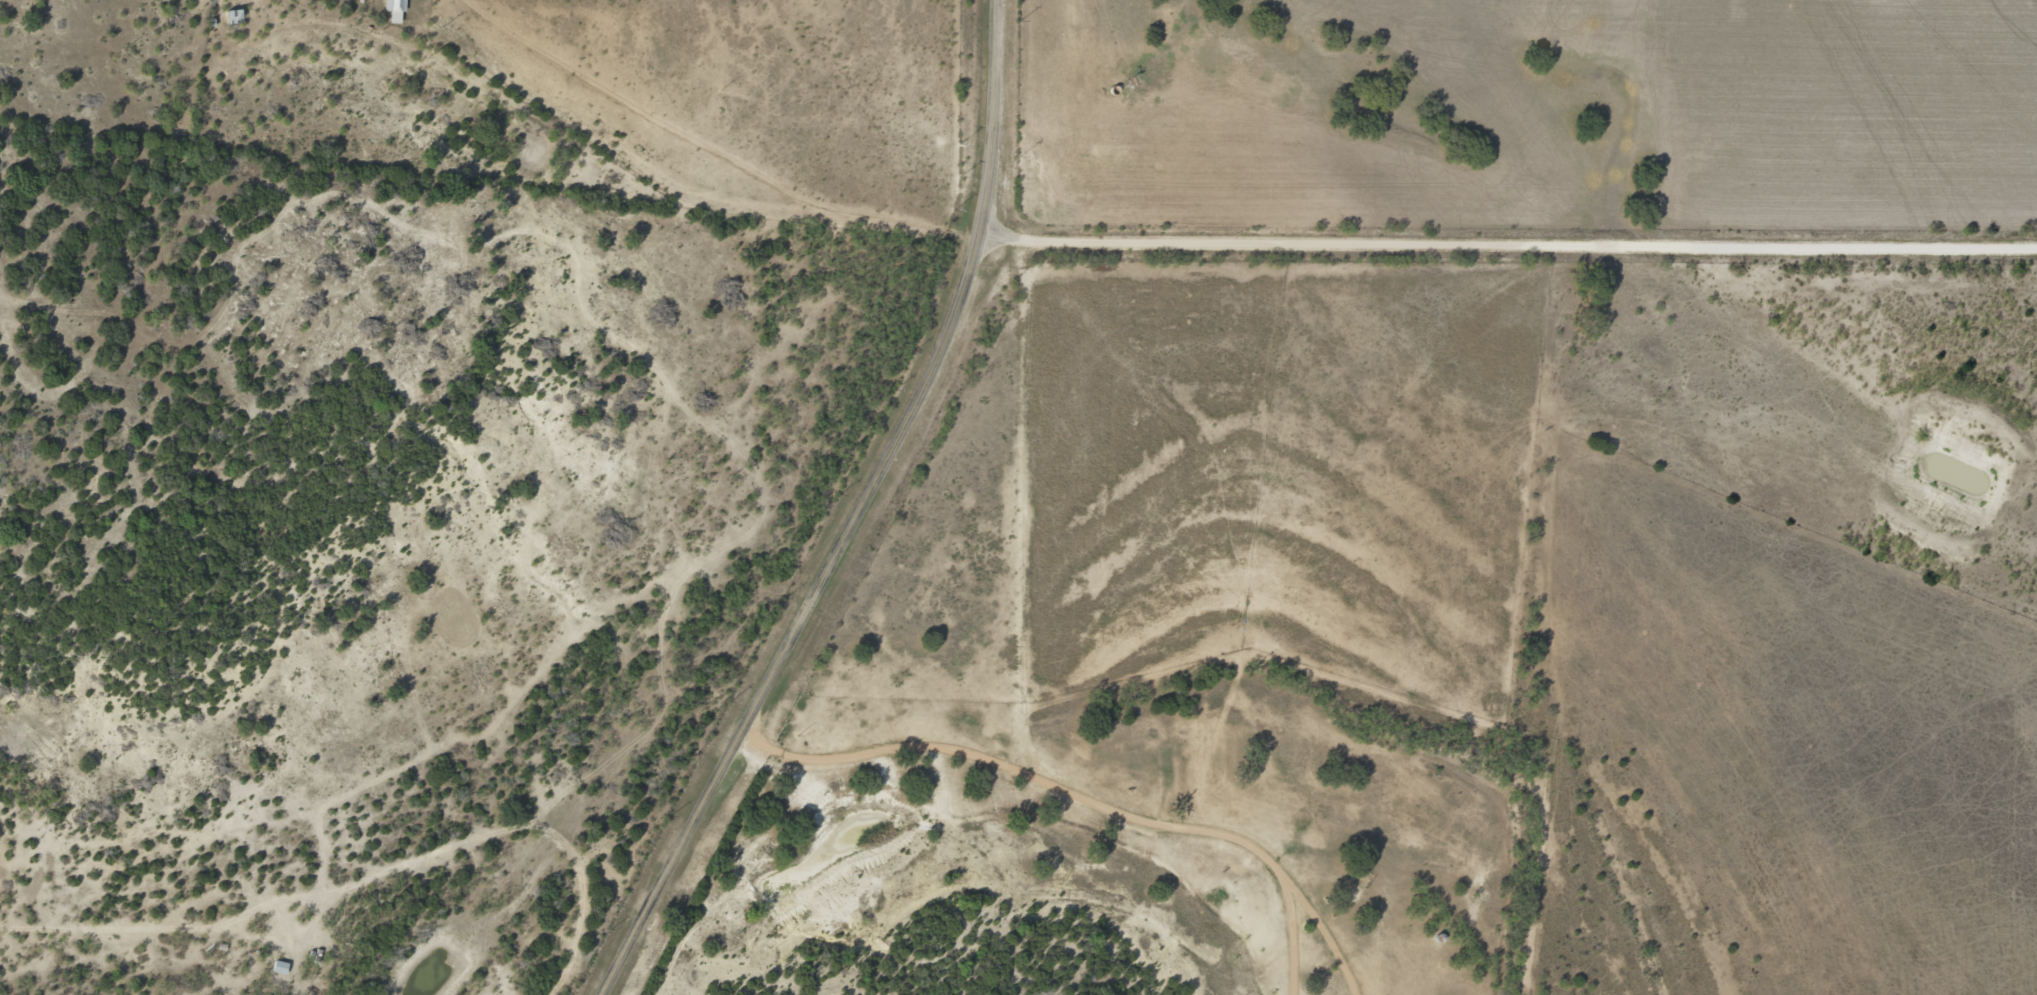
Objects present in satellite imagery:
building: (394, 11)
building: (233, 17)
road: (679, 175)
road: (1510, 245)
road: (858, 515)
building: (278, 968)

